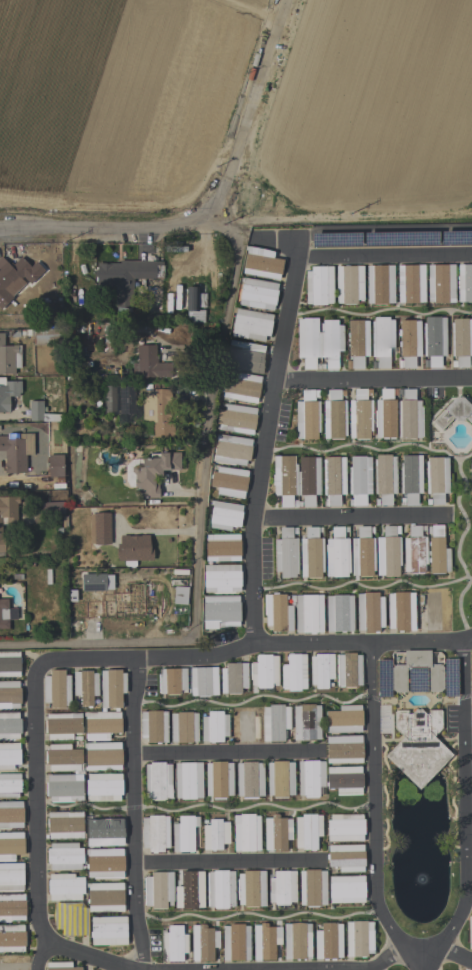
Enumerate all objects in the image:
road: (253, 10)
road: (282, 10)
crop: (238, 108)
road: (242, 135)
road: (115, 232)
building: (456, 238)
building: (401, 239)
building: (336, 240)
road: (383, 256)
building: (261, 263)
building: (15, 278)
building: (126, 278)
building: (464, 283)
building: (349, 284)
building: (411, 284)
building: (441, 284)
building: (319, 285)
building: (380, 285)
building: (258, 294)
building: (195, 305)
building: (251, 325)
building: (382, 340)
building: (434, 340)
building: (461, 341)
building: (308, 342)
building: (331, 342)
building: (358, 342)
building: (409, 342)
building: (246, 357)
building: (9, 358)
building: (150, 364)
road: (374, 381)
building: (242, 388)
building: (8, 393)
building: (160, 410)
building: (36, 411)
building: (453, 413)
building: (385, 415)
building: (334, 416)
building: (360, 416)
building: (409, 416)
building: (307, 417)
building: (236, 419)
road: (210, 435)
building: (232, 450)
building: (16, 452)
road: (373, 452)
road: (264, 453)
building: (55, 466)
building: (153, 473)
building: (471, 474)
building: (385, 478)
building: (333, 479)
building: (359, 479)
building: (410, 479)
building: (437, 479)
building: (285, 480)
building: (308, 480)
building: (229, 482)
building: (52, 507)
building: (225, 516)
building: (7, 517)
road: (350, 517)
building: (99, 529)
road: (459, 543)
building: (223, 548)
building: (134, 549)
building: (415, 551)
building: (438, 552)
building: (363, 553)
building: (388, 553)
building: (286, 554)
building: (311, 554)
building: (337, 554)
building: (222, 578)
building: (94, 583)
road: (367, 590)
building: (180, 596)
building: (401, 611)
building: (432, 611)
building: (221, 612)
building: (370, 612)
building: (278, 613)
building: (339, 613)
building: (3, 614)
building: (309, 614)
road: (97, 642)
road: (245, 649)
building: (9, 666)
building: (321, 670)
building: (349, 670)
building: (264, 671)
building: (294, 673)
building: (233, 678)
building: (384, 678)
building: (435, 678)
building: (451, 678)
building: (417, 680)
building: (172, 681)
building: (203, 682)
building: (85, 687)
building: (112, 688)
building: (56, 689)
building: (9, 695)
building: (471, 715)
building: (344, 719)
building: (275, 722)
building: (307, 723)
building: (102, 725)
building: (245, 725)
building: (9, 726)
building: (63, 726)
building: (154, 726)
building: (214, 727)
building: (184, 728)
building: (419, 747)
building: (344, 749)
road: (224, 755)
building: (9, 756)
building: (103, 756)
building: (63, 758)
building: (310, 778)
building: (280, 779)
building: (219, 780)
building: (249, 780)
building: (345, 780)
building: (158, 781)
building: (188, 781)
building: (10, 786)
building: (104, 787)
building: (64, 788)
road: (463, 798)
road: (373, 799)
building: (11, 815)
road: (132, 815)
building: (65, 825)
road: (36, 827)
building: (345, 828)
building: (104, 831)
building: (307, 831)
building: (155, 833)
building: (246, 833)
building: (184, 834)
building: (275, 834)
building: (215, 835)
building: (11, 845)
building: (64, 856)
building: (346, 858)
building: (105, 863)
road: (227, 864)
building: (11, 876)
building: (65, 888)
building: (282, 888)
building: (313, 888)
building: (220, 889)
building: (251, 889)
building: (347, 889)
building: (158, 890)
building: (190, 891)
building: (106, 898)
building: (12, 907)
building: (71, 919)
building: (108, 931)
building: (470, 932)
building: (12, 938)
building: (359, 939)
building: (264, 941)
building: (297, 941)
building: (328, 941)
building: (236, 943)
building: (173, 944)
building: (202, 944)
road: (420, 951)
road: (454, 953)
road: (386, 957)
road: (82, 959)
road: (420, 961)
building: (13, 963)
building: (60, 966)

